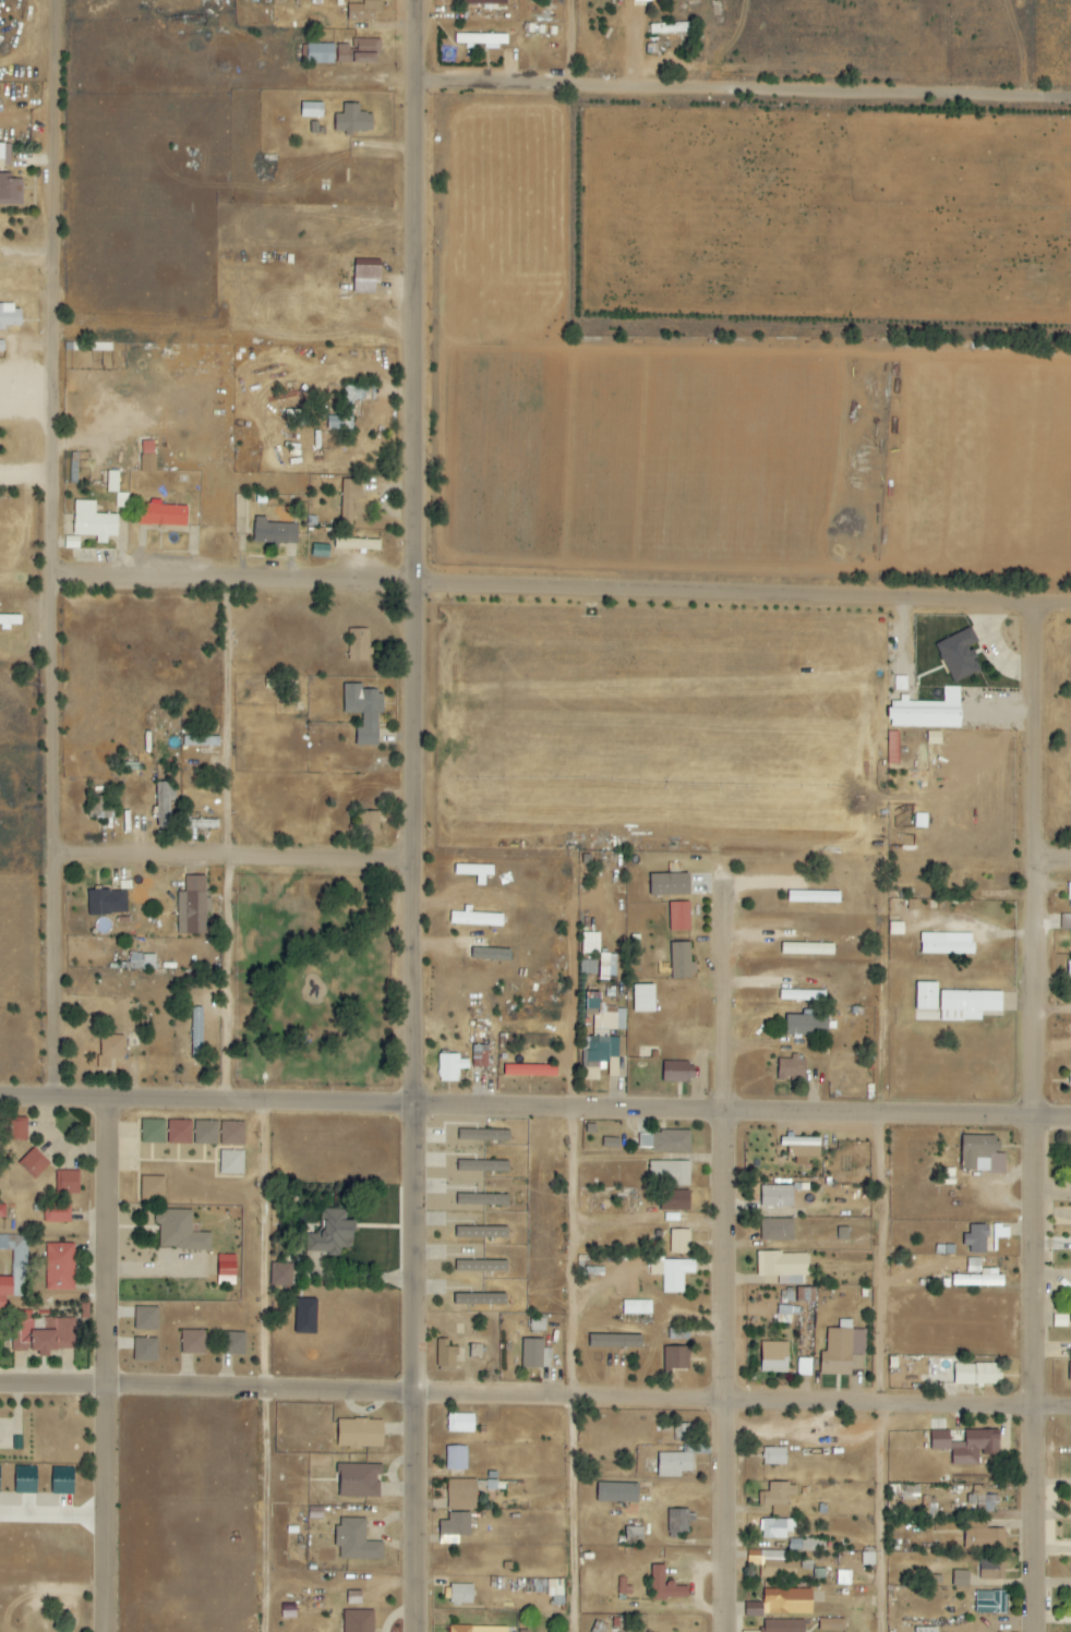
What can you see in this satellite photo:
building: (641, 0)
building: (483, 2)
building: (363, 10)
building: (481, 39)
road: (578, 46)
building: (358, 51)
building: (320, 53)
road: (747, 94)
building: (311, 110)
building: (353, 120)
building: (10, 190)
building: (366, 276)
building: (10, 316)
building: (350, 407)
building: (147, 456)
building: (112, 482)
building: (349, 499)
building: (161, 515)
building: (93, 522)
building: (274, 532)
building: (72, 543)
building: (357, 544)
road: (60, 549)
road: (566, 591)
building: (9, 621)
building: (359, 645)
building: (959, 655)
building: (364, 712)
building: (927, 712)
building: (934, 738)
building: (201, 741)
building: (892, 748)
building: (164, 802)
road: (420, 815)
building: (371, 823)
building: (202, 824)
road: (236, 842)
road: (241, 860)
road: (1055, 866)
building: (474, 871)
building: (669, 884)
building: (1070, 894)
building: (814, 896)
building: (107, 902)
building: (193, 906)
building: (678, 917)
building: (474, 918)
building: (1066, 921)
road: (571, 935)
building: (590, 943)
building: (947, 943)
building: (807, 948)
building: (491, 953)
building: (142, 962)
building: (679, 962)
building: (588, 967)
building: (1069, 969)
building: (802, 995)
building: (643, 998)
building: (953, 1003)
building: (807, 1025)
building: (196, 1032)
building: (602, 1037)
building: (111, 1049)
building: (480, 1056)
building: (450, 1066)
building: (792, 1068)
building: (530, 1071)
building: (675, 1073)
road: (534, 1110)
road: (1040, 1120)
building: (16, 1129)
building: (153, 1132)
building: (179, 1132)
building: (205, 1133)
building: (231, 1133)
building: (483, 1135)
building: (665, 1141)
building: (611, 1143)
building: (802, 1147)
building: (982, 1155)
building: (231, 1162)
building: (33, 1164)
building: (483, 1165)
building: (670, 1173)
building: (67, 1182)
building: (153, 1188)
building: (777, 1196)
building: (482, 1199)
building: (675, 1200)
building: (2, 1210)
building: (56, 1212)
building: (777, 1230)
building: (180, 1231)
building: (1001, 1231)
building: (481, 1232)
building: (330, 1233)
building: (843, 1233)
building: (977, 1238)
building: (679, 1242)
road: (731, 1256)
building: (480, 1266)
building: (59, 1267)
building: (783, 1267)
building: (14, 1268)
building: (226, 1269)
building: (672, 1272)
building: (281, 1274)
building: (978, 1274)
building: (480, 1298)
building: (637, 1307)
building: (305, 1316)
building: (146, 1318)
building: (41, 1333)
building: (615, 1341)
building: (192, 1342)
building: (233, 1343)
building: (145, 1350)
building: (476, 1351)
building: (446, 1353)
building: (535, 1354)
building: (676, 1357)
building: (774, 1357)
road: (107, 1366)
building: (804, 1367)
road: (274, 1368)
road: (571, 1371)
building: (1070, 1373)
building: (976, 1374)
road: (891, 1375)
road: (534, 1400)
building: (460, 1423)
building: (360, 1434)
building: (940, 1440)
building: (975, 1447)
building: (679, 1454)
building: (774, 1456)
building: (455, 1458)
building: (25, 1480)
building: (62, 1480)
building: (359, 1480)
building: (616, 1492)
building: (460, 1494)
building: (778, 1497)
building: (314, 1513)
building: (678, 1523)
building: (455, 1525)
building: (775, 1528)
building: (633, 1536)
building: (357, 1542)
building: (805, 1545)
building: (868, 1559)
building: (777, 1565)
building: (992, 1571)
building: (843, 1577)
building: (961, 1579)
building: (665, 1586)
building: (624, 1587)
building: (555, 1592)
building: (460, 1594)
building: (354, 1598)
building: (786, 1600)
building: (990, 1603)
building: (359, 1621)
building: (831, 1624)
building: (783, 1625)
building: (477, 1629)
building: (926, 1630)

